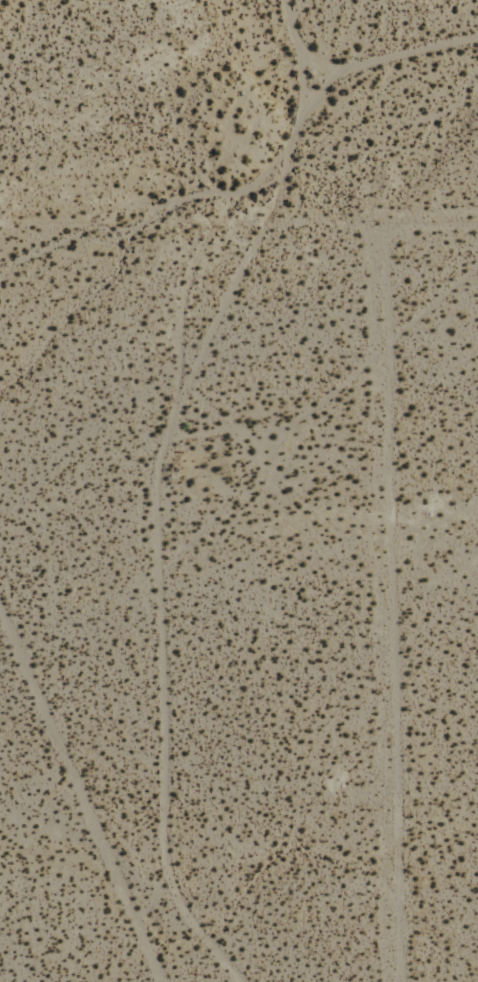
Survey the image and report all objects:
road: (184, 240)
road: (159, 485)
road: (380, 612)

